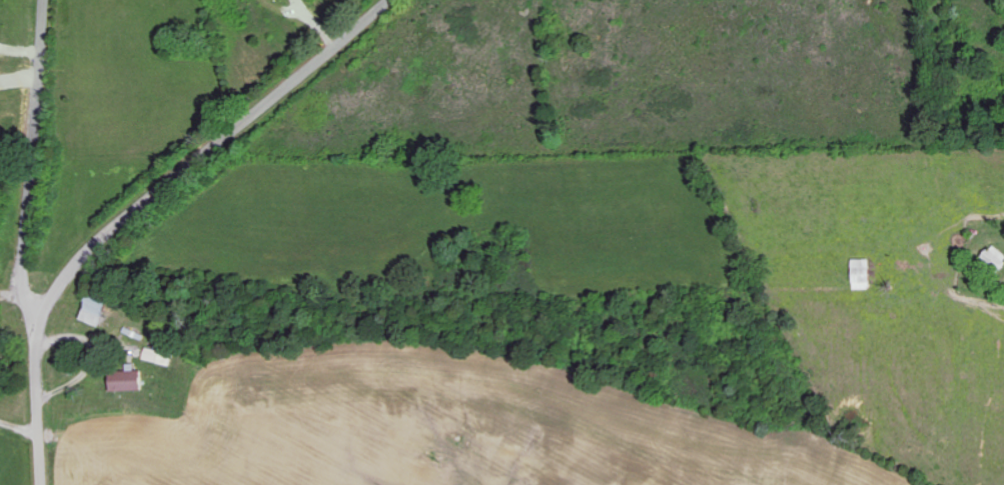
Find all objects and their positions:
road: (30, 166)
road: (142, 203)
building: (993, 259)
building: (862, 274)
road: (14, 292)
building: (92, 313)
building: (124, 381)
road: (19, 430)

